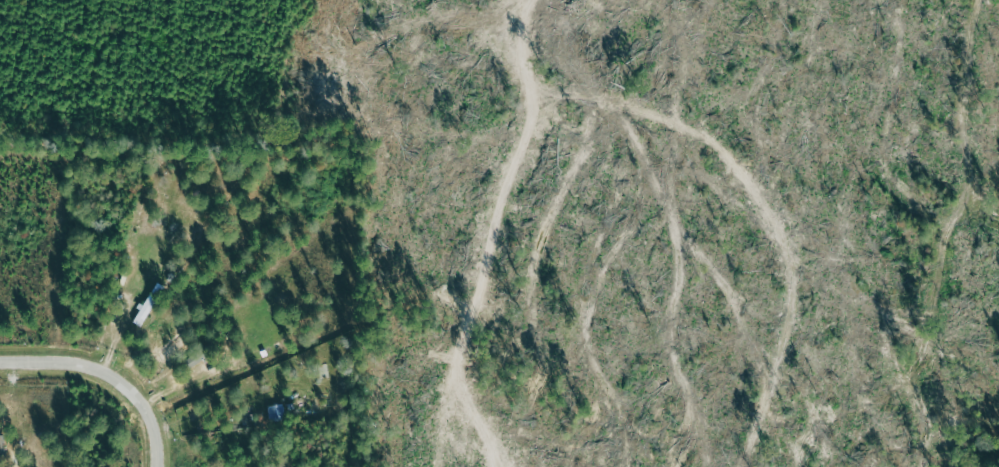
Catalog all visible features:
building: (150, 303)
road: (110, 375)
building: (287, 403)

